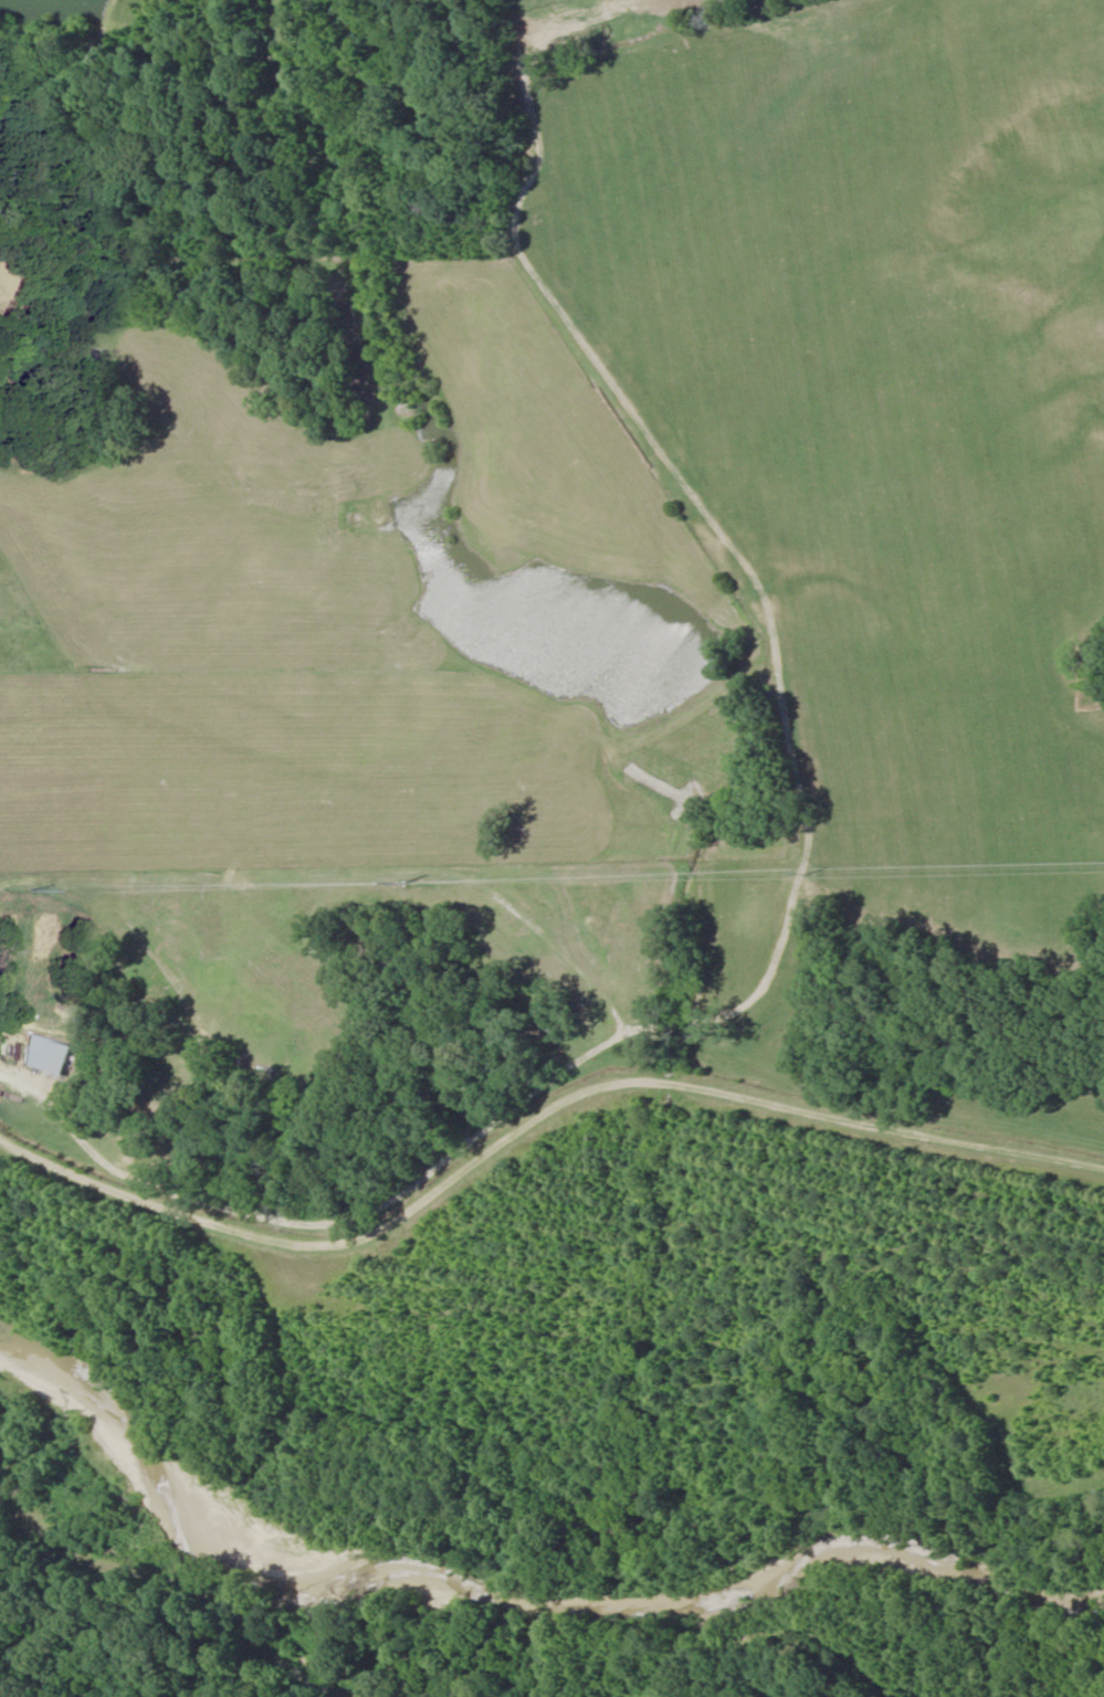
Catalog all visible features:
power tower: (820, 871)
power tower: (412, 881)
power tower: (19, 889)
building: (43, 1056)
road: (530, 1114)

